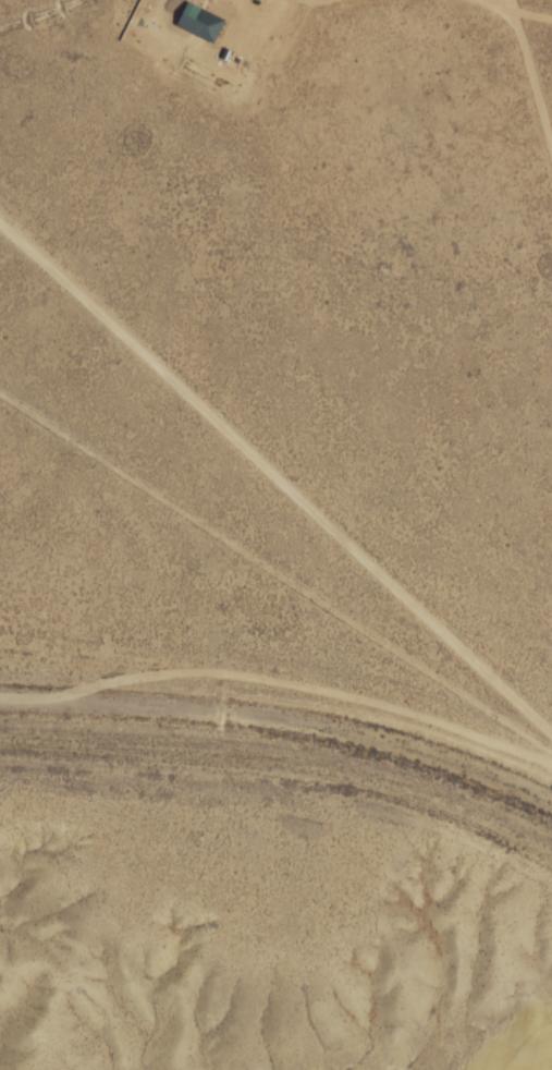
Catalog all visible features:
road: (278, 532)
road: (279, 692)

